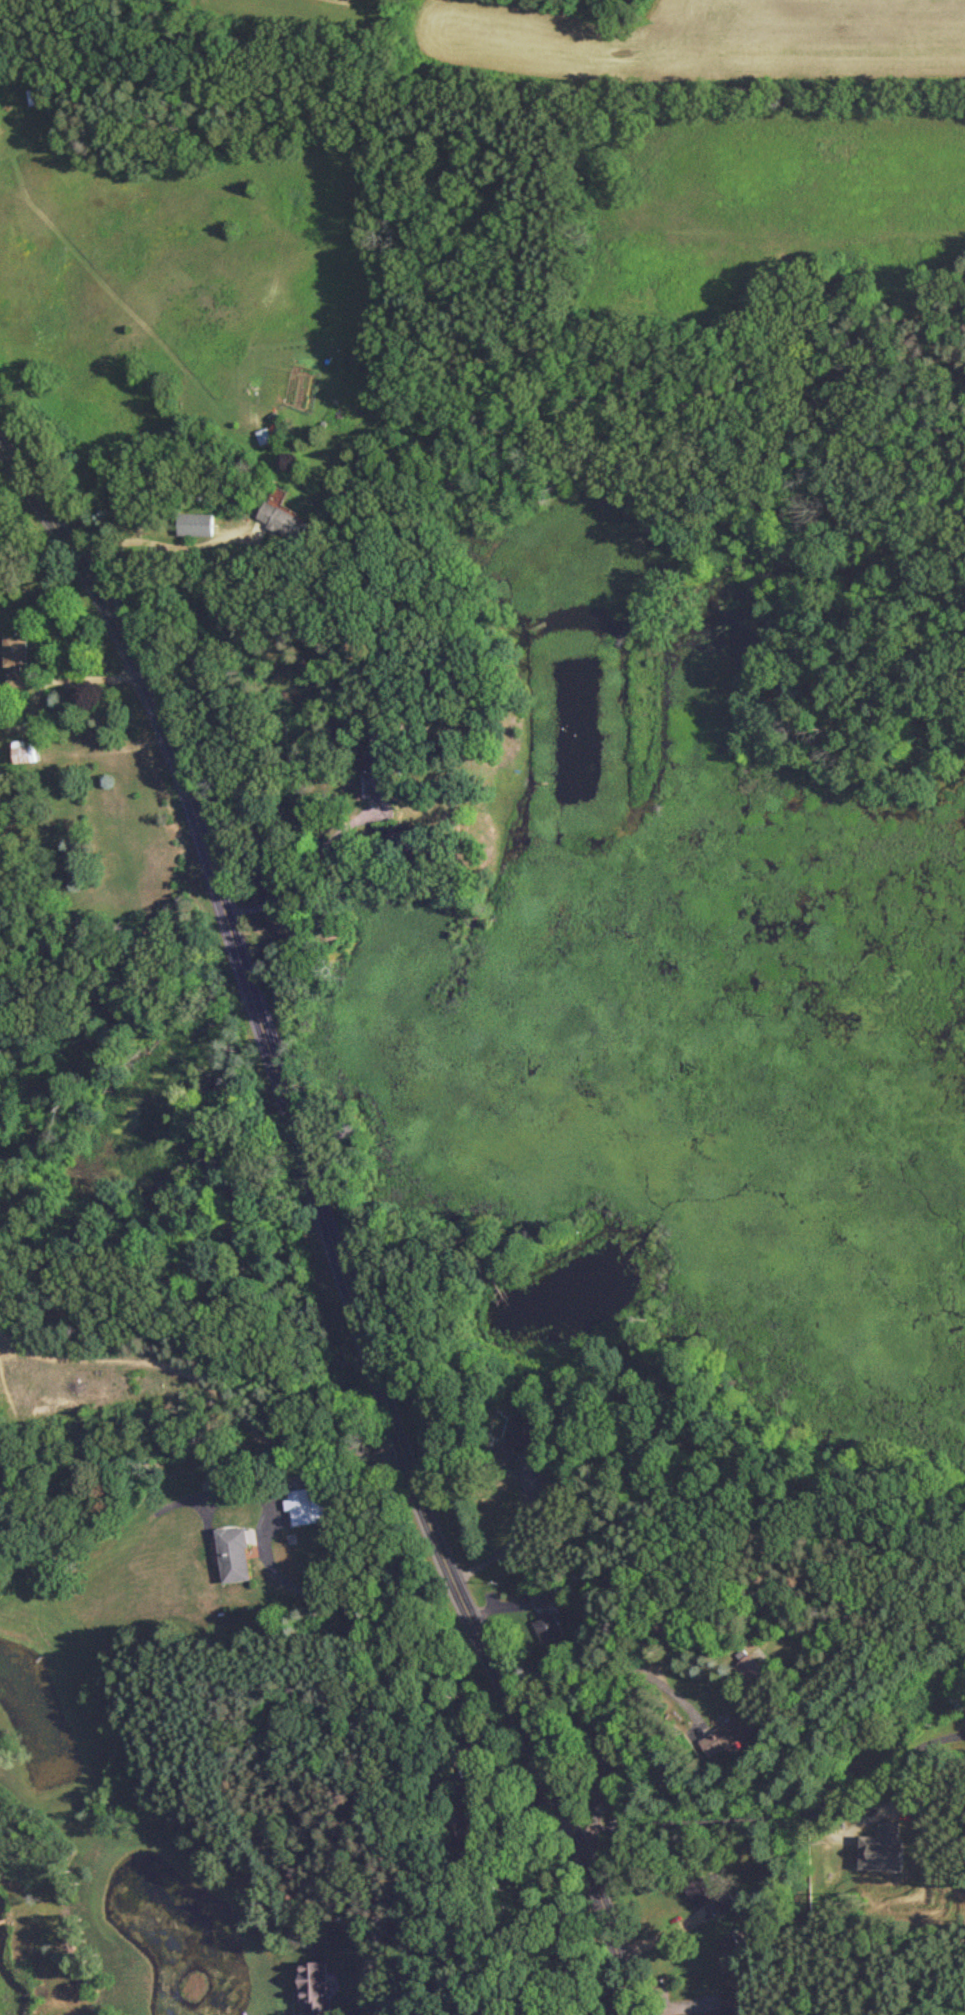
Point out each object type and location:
building: (285, 519)
building: (198, 524)
road: (166, 545)
building: (16, 659)
building: (24, 751)
building: (378, 763)
road: (302, 872)
road: (329, 1220)
building: (522, 1439)
building: (310, 1505)
road: (514, 1534)
road: (264, 1552)
building: (235, 1553)
building: (548, 1594)
building: (548, 1627)
building: (750, 1666)
road: (615, 1705)
building: (728, 1734)
road: (780, 1814)
building: (883, 1848)
building: (701, 1892)
building: (732, 1940)
building: (314, 1987)
building: (732, 2001)

